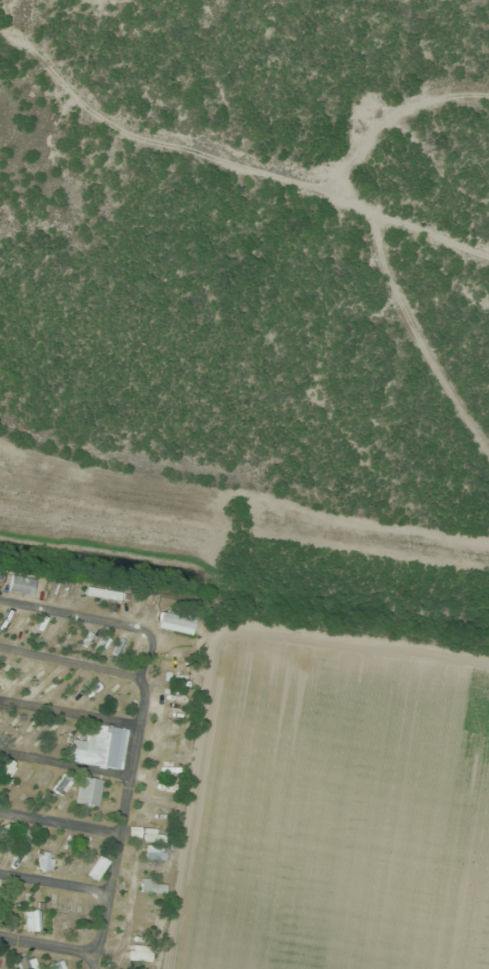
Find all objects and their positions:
road: (76, 615)
building: (173, 621)
road: (71, 662)
building: (3, 665)
road: (68, 710)
building: (13, 719)
building: (99, 747)
road: (63, 760)
building: (7, 768)
building: (26, 774)
building: (63, 784)
building: (89, 791)
road: (122, 799)
road: (58, 819)
building: (38, 839)
building: (61, 842)
building: (45, 862)
road: (54, 878)
building: (151, 885)
building: (24, 897)
building: (1, 907)
road: (48, 946)
building: (138, 952)
building: (27, 962)
building: (106, 962)
building: (58, 965)
building: (133, 966)

